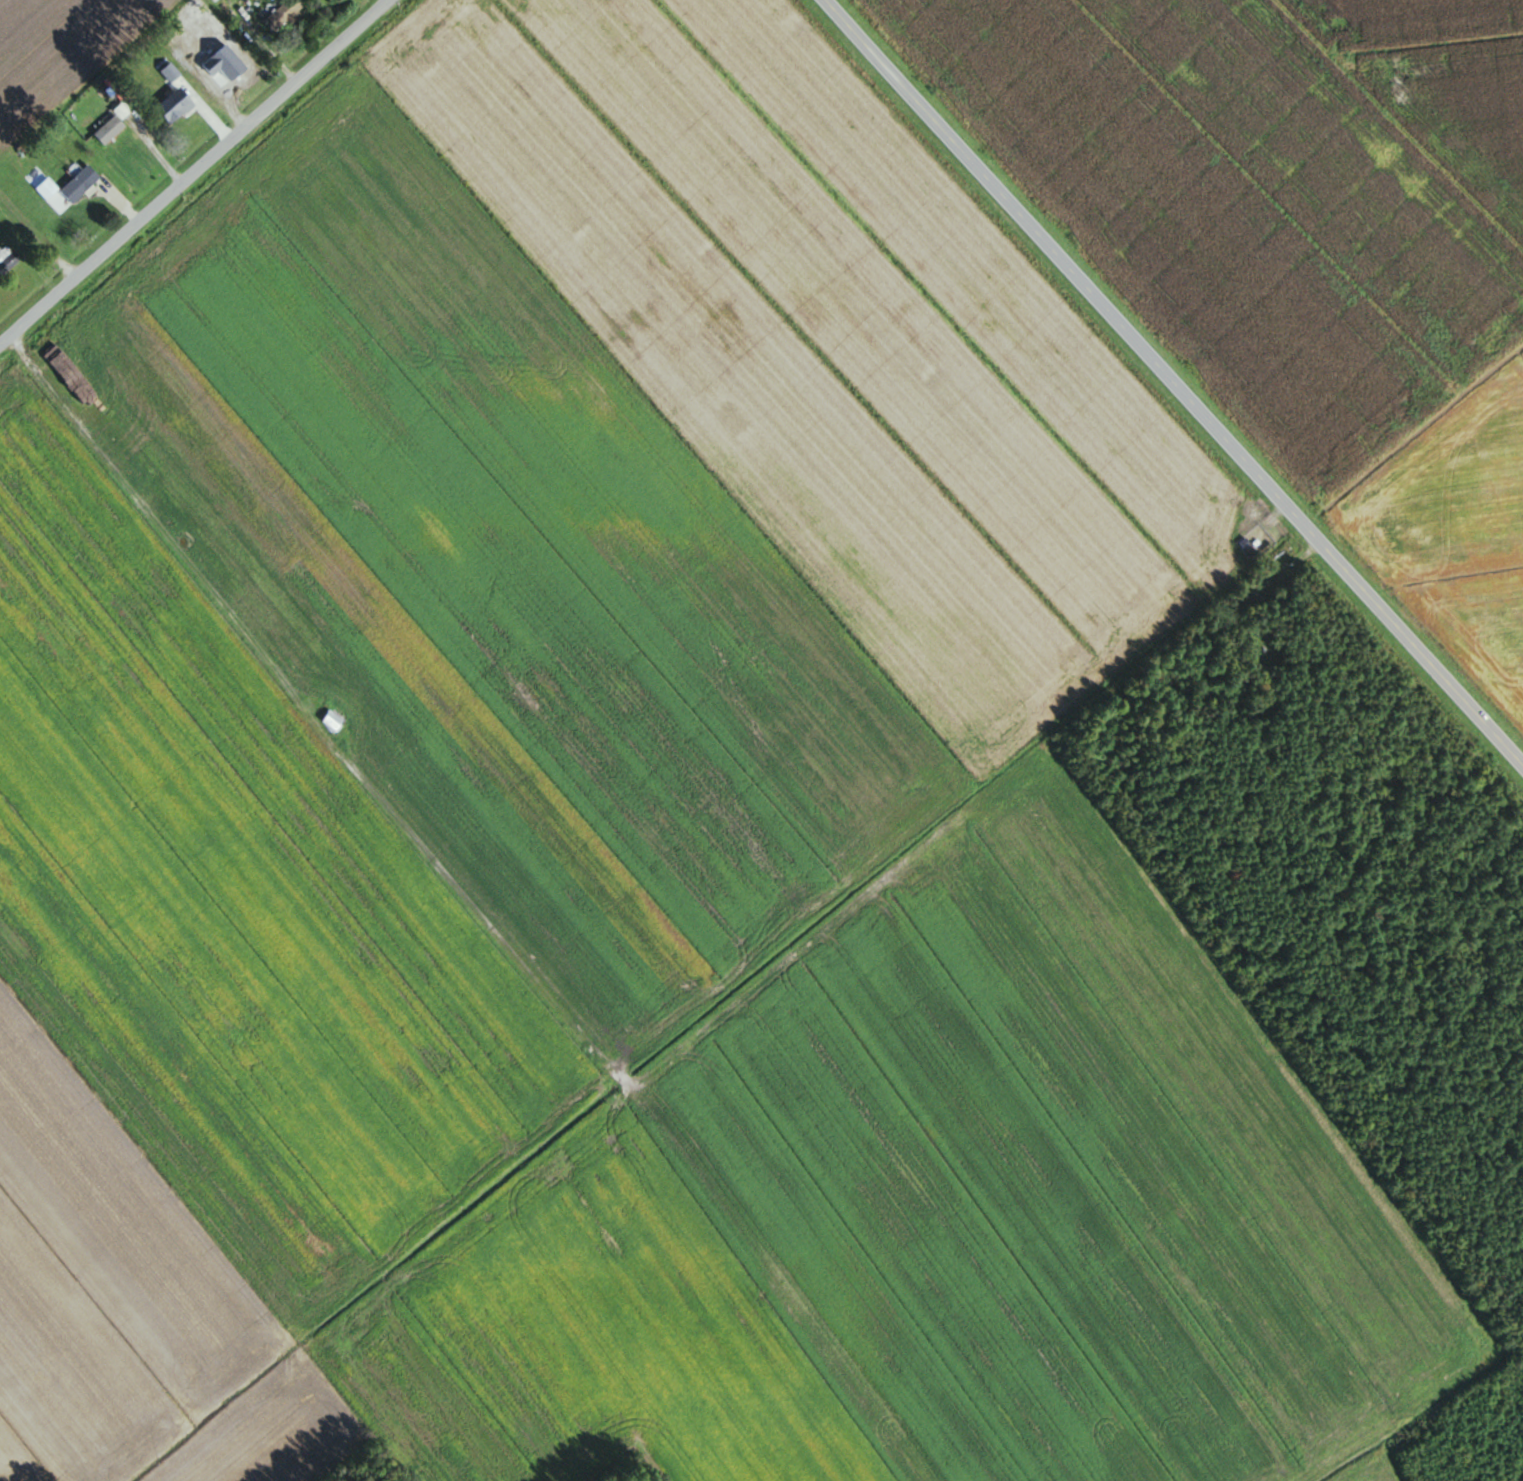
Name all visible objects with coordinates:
building: (212, 0)
building: (284, 15)
building: (227, 74)
building: (109, 130)
road: (197, 174)
building: (80, 185)
building: (46, 190)
building: (6, 261)
road: (28, 266)
road: (1173, 387)
building: (332, 724)

